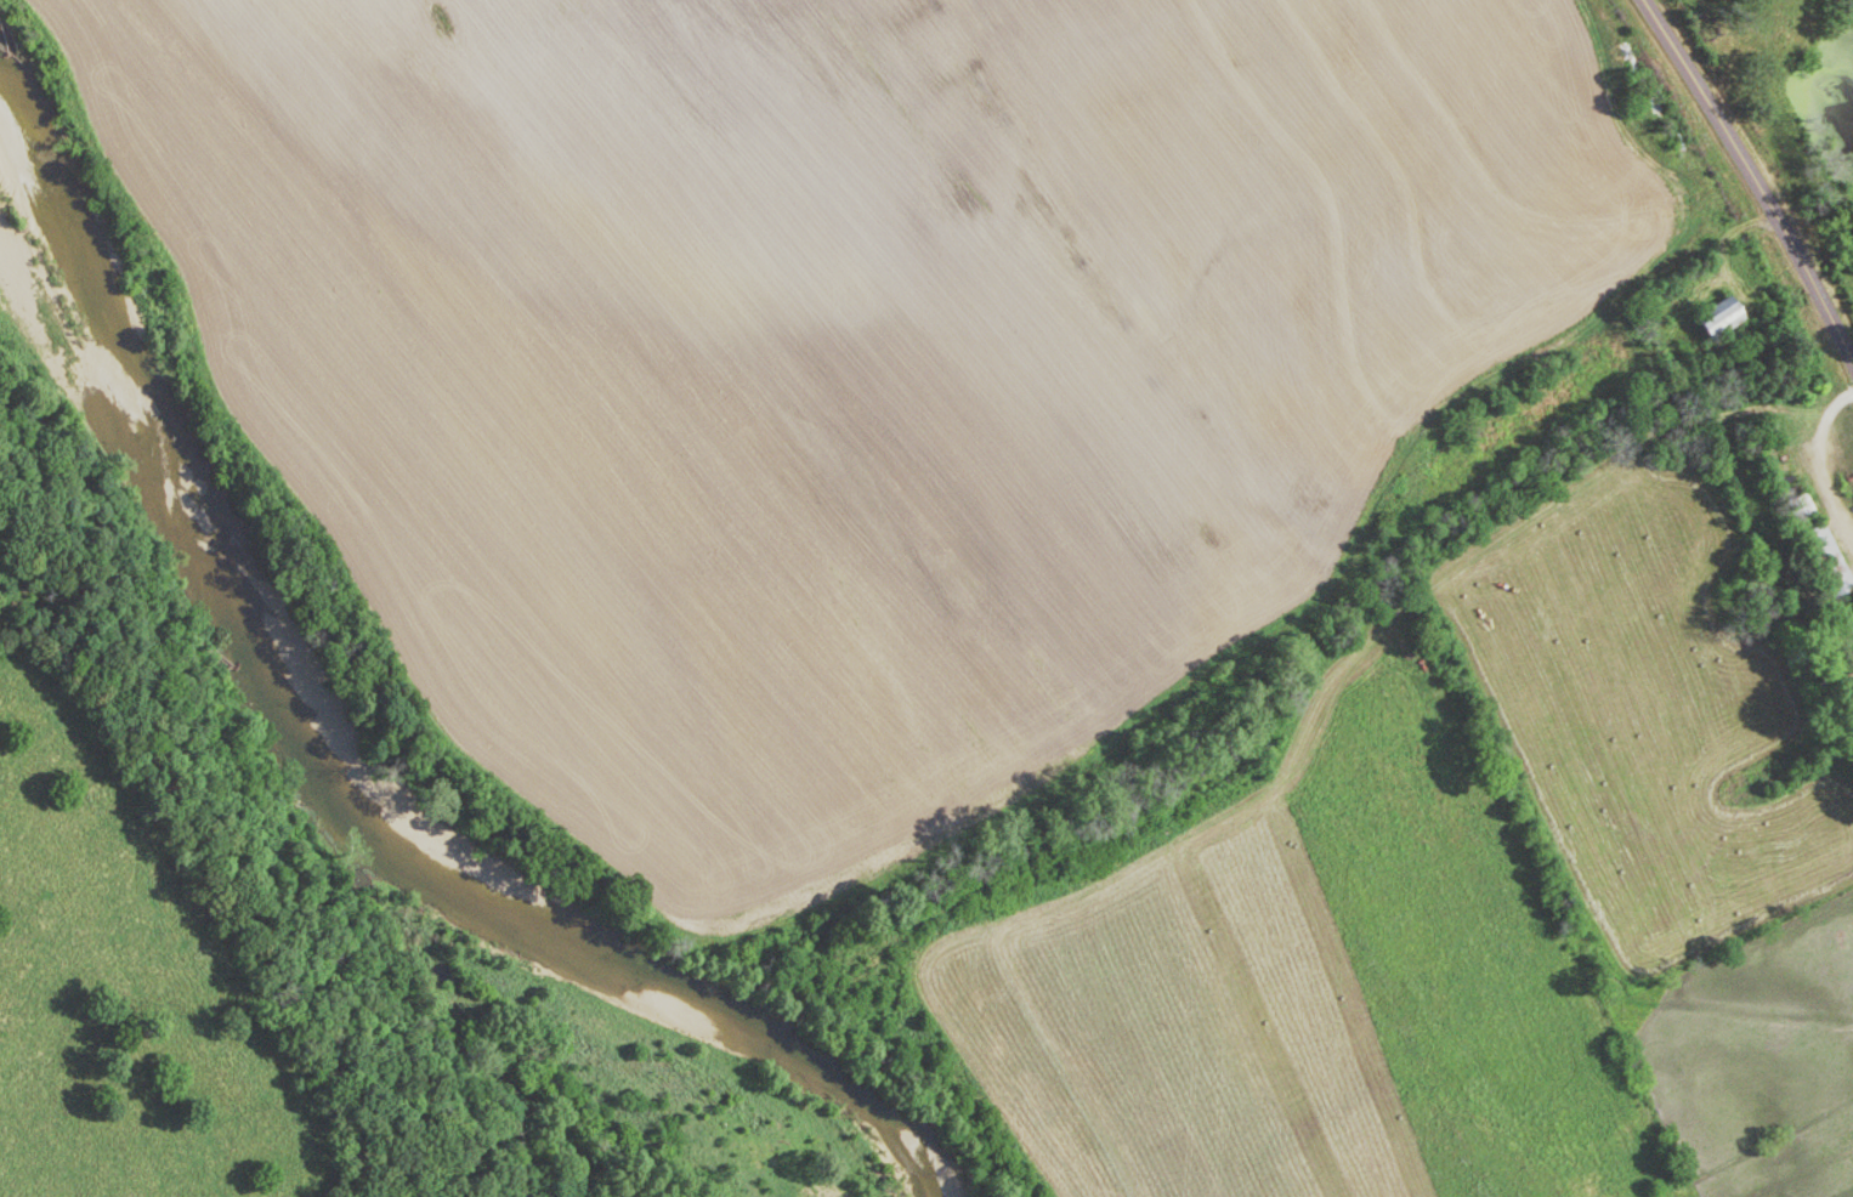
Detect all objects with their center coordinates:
road: (1756, 176)
building: (1728, 318)
building: (1796, 509)
building: (1821, 562)
building: (1852, 652)
river: (334, 788)

